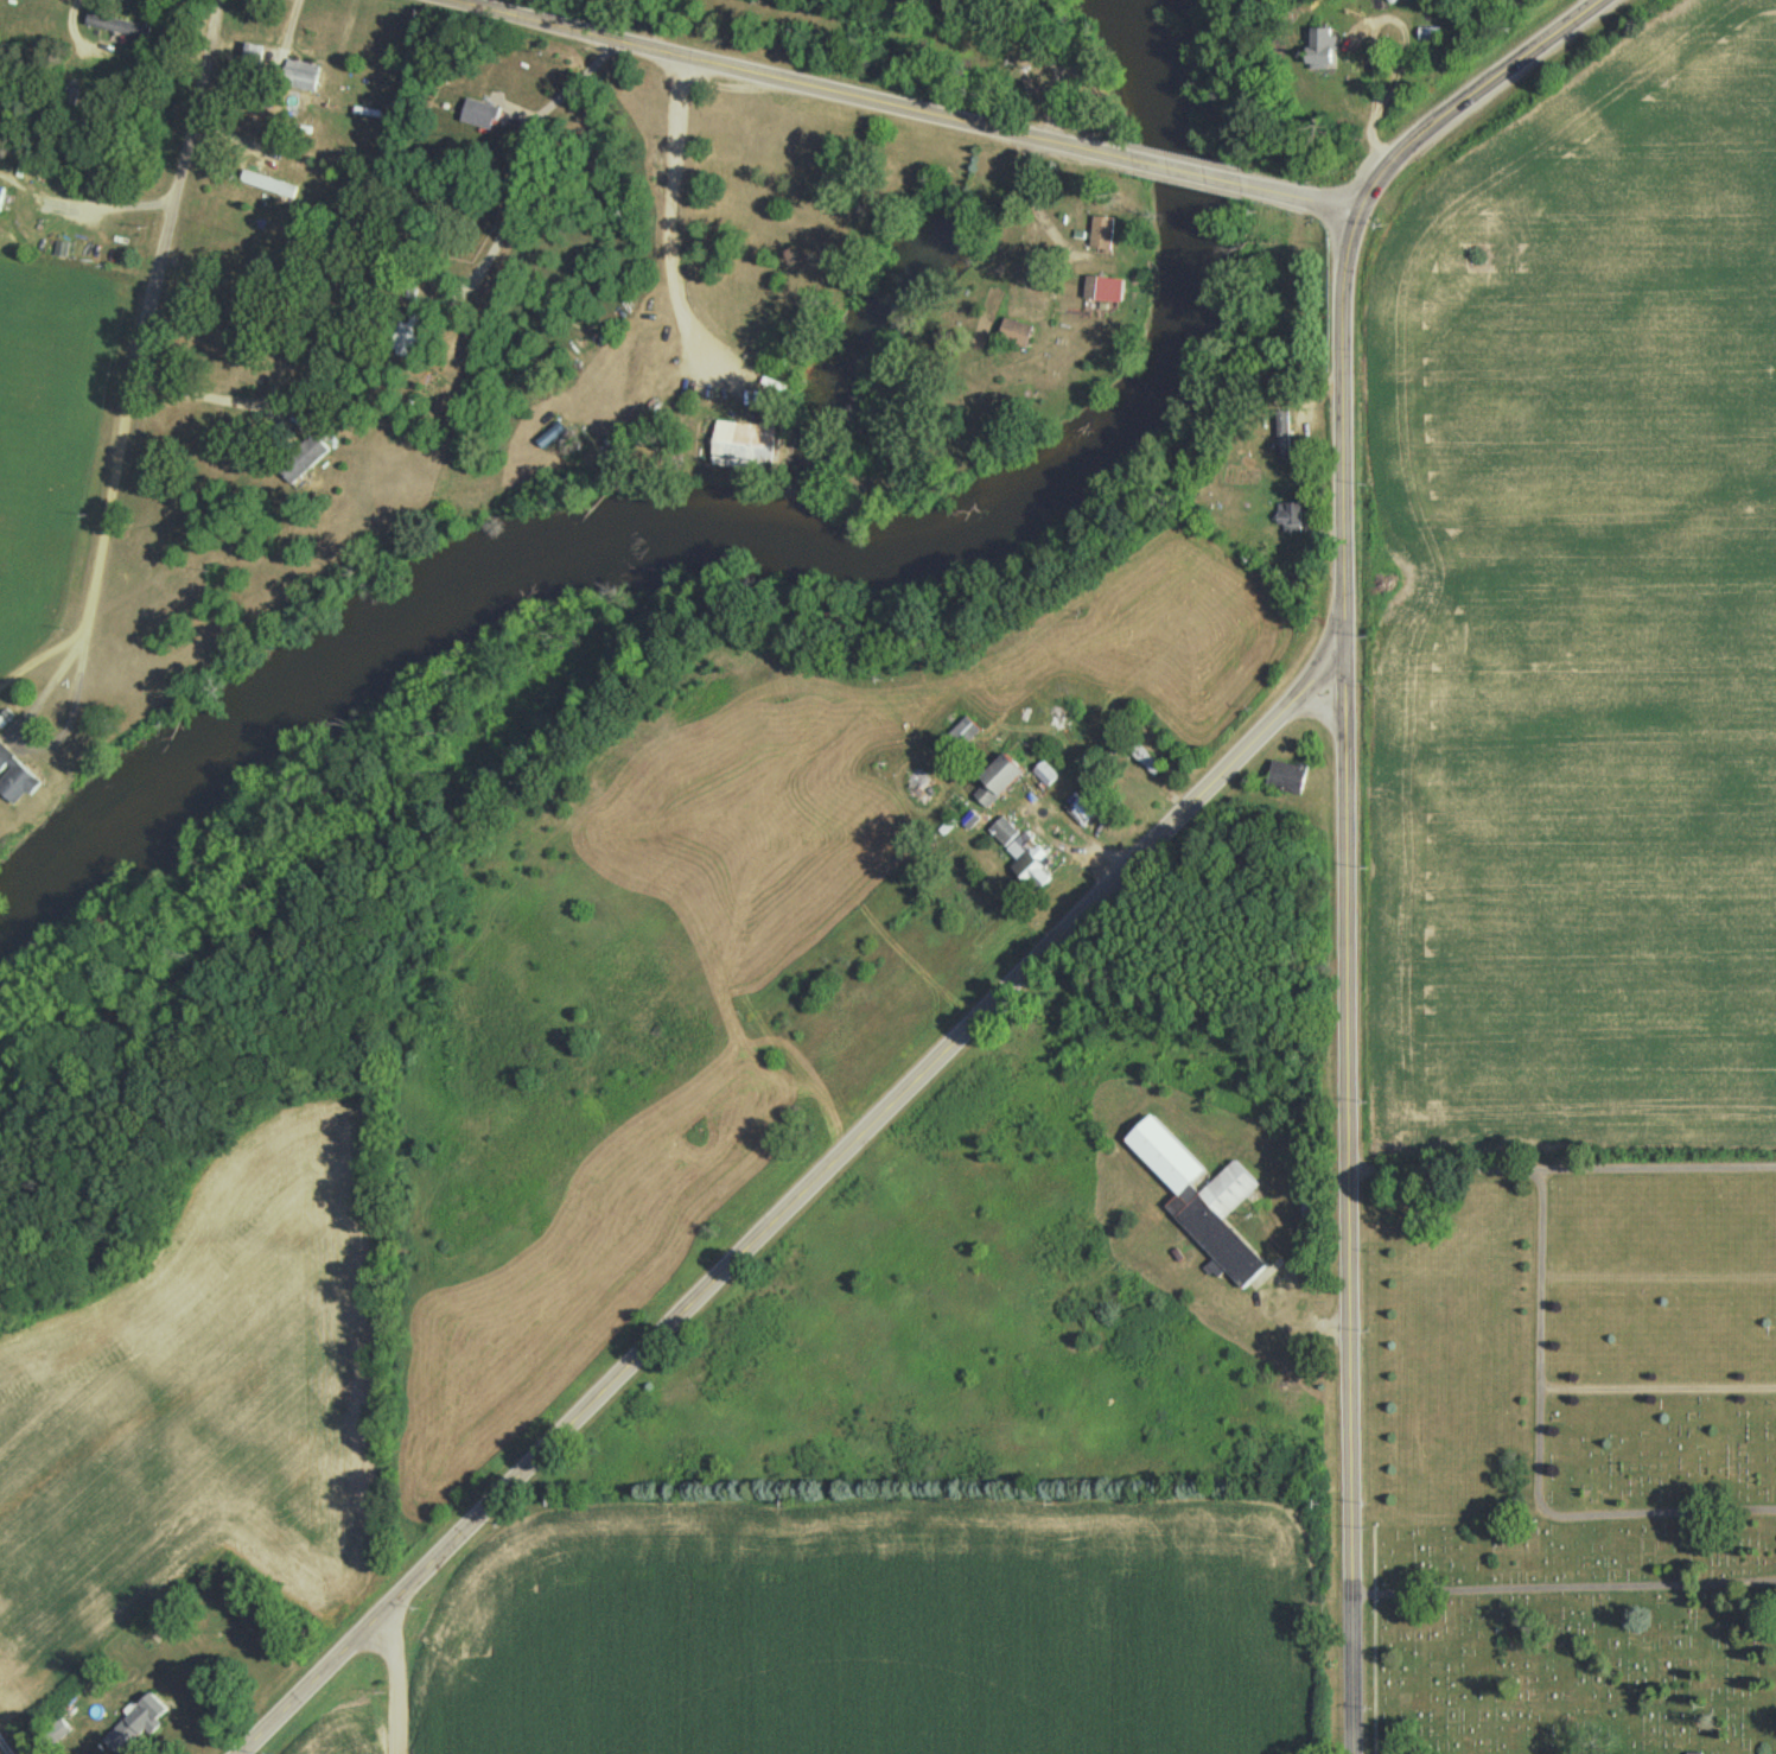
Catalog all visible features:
building: (117, 27)
building: (1322, 51)
building: (252, 59)
building: (300, 78)
road: (785, 81)
building: (479, 116)
road: (1184, 174)
building: (1, 197)
road: (1300, 203)
building: (1101, 236)
building: (1096, 290)
building: (236, 294)
building: (405, 335)
building: (1014, 335)
road: (135, 342)
building: (219, 347)
building: (1282, 437)
building: (743, 447)
building: (301, 460)
river: (747, 519)
building: (1290, 520)
building: (966, 733)
building: (1139, 757)
building: (1045, 776)
building: (1286, 780)
building: (13, 781)
building: (997, 782)
building: (1080, 814)
building: (1023, 857)
road: (1059, 933)
road: (1561, 1172)
road: (1349, 1181)
building: (1201, 1201)
park: (1576, 1456)
road: (1520, 1466)
road: (1564, 1585)
road: (390, 1646)
building: (134, 1727)
road: (390, 1729)
road: (1355, 1733)

